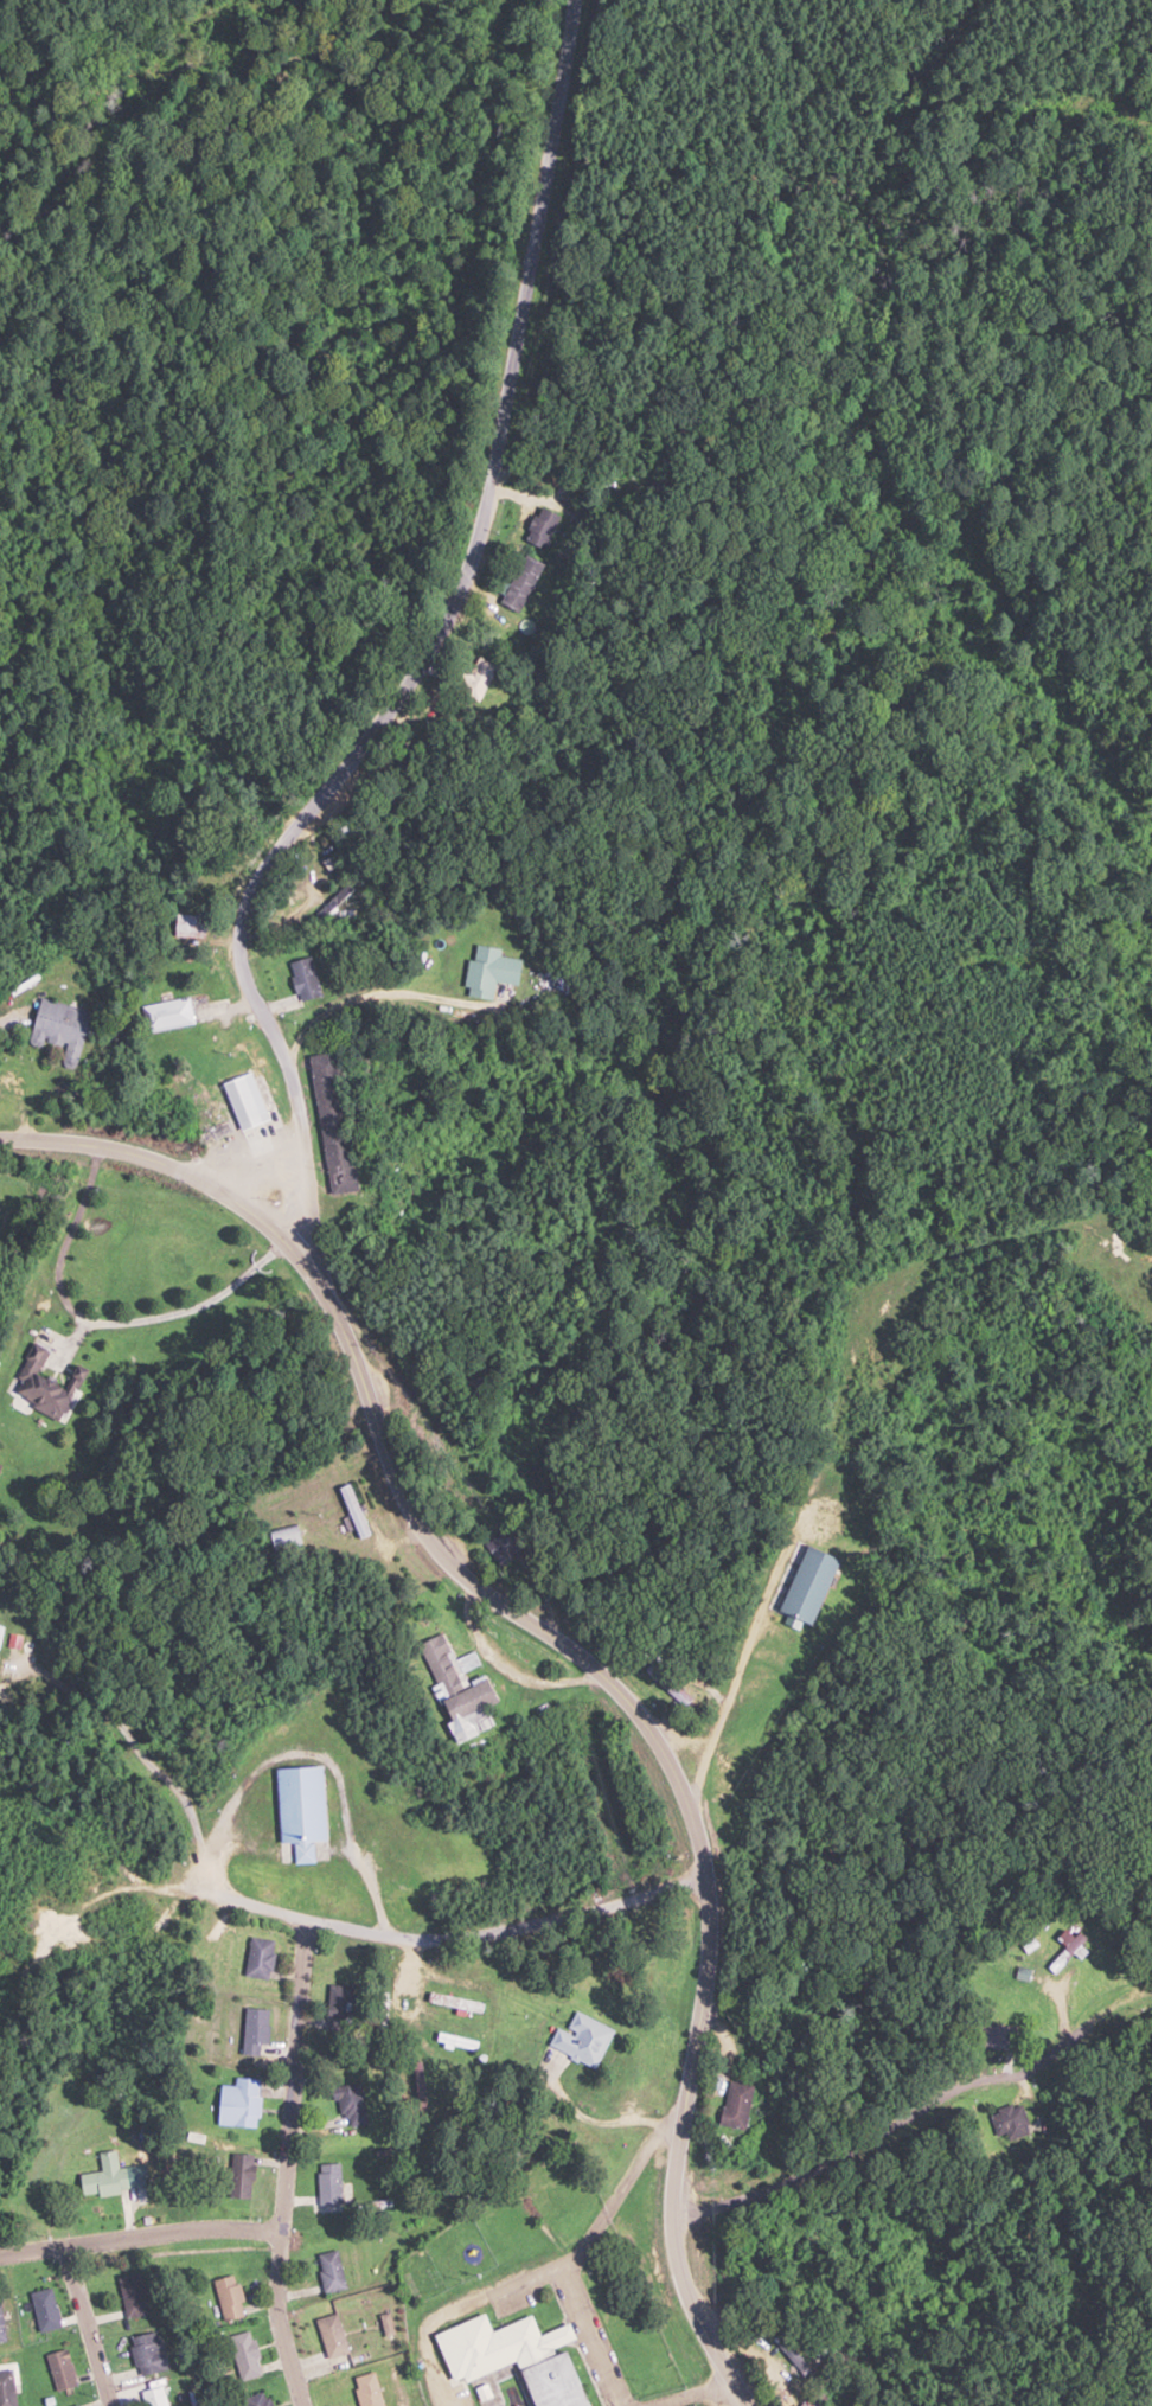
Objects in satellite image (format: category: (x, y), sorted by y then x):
building: (538, 527)
road: (424, 654)
building: (473, 677)
building: (335, 901)
building: (186, 924)
building: (486, 970)
road: (115, 973)
building: (301, 977)
building: (165, 1013)
building: (52, 1018)
building: (252, 1103)
building: (328, 1121)
building: (34, 1386)
building: (353, 1510)
building: (283, 1537)
building: (805, 1583)
road: (568, 1649)
road: (741, 1653)
building: (455, 1687)
building: (674, 1694)
building: (299, 1803)
road: (503, 1930)
building: (1063, 1951)
building: (257, 1957)
building: (456, 2002)
building: (337, 2003)
building: (379, 2013)
building: (254, 2030)
building: (992, 2036)
building: (581, 2040)
building: (238, 2103)
building: (347, 2104)
building: (734, 2104)
building: (1005, 2122)
road: (288, 2163)
building: (754, 2163)
building: (239, 2175)
building: (101, 2177)
building: (327, 2183)
road: (141, 2234)
building: (329, 2271)
building: (130, 2295)
building: (228, 2297)
building: (44, 2309)
road: (89, 2325)
building: (329, 2335)
building: (493, 2346)
building: (145, 2353)
building: (791, 2354)
building: (243, 2355)
building: (59, 2369)
building: (551, 2381)
building: (6, 2388)
building: (365, 2389)
building: (153, 2397)
building: (255, 2399)
building: (75, 2405)

